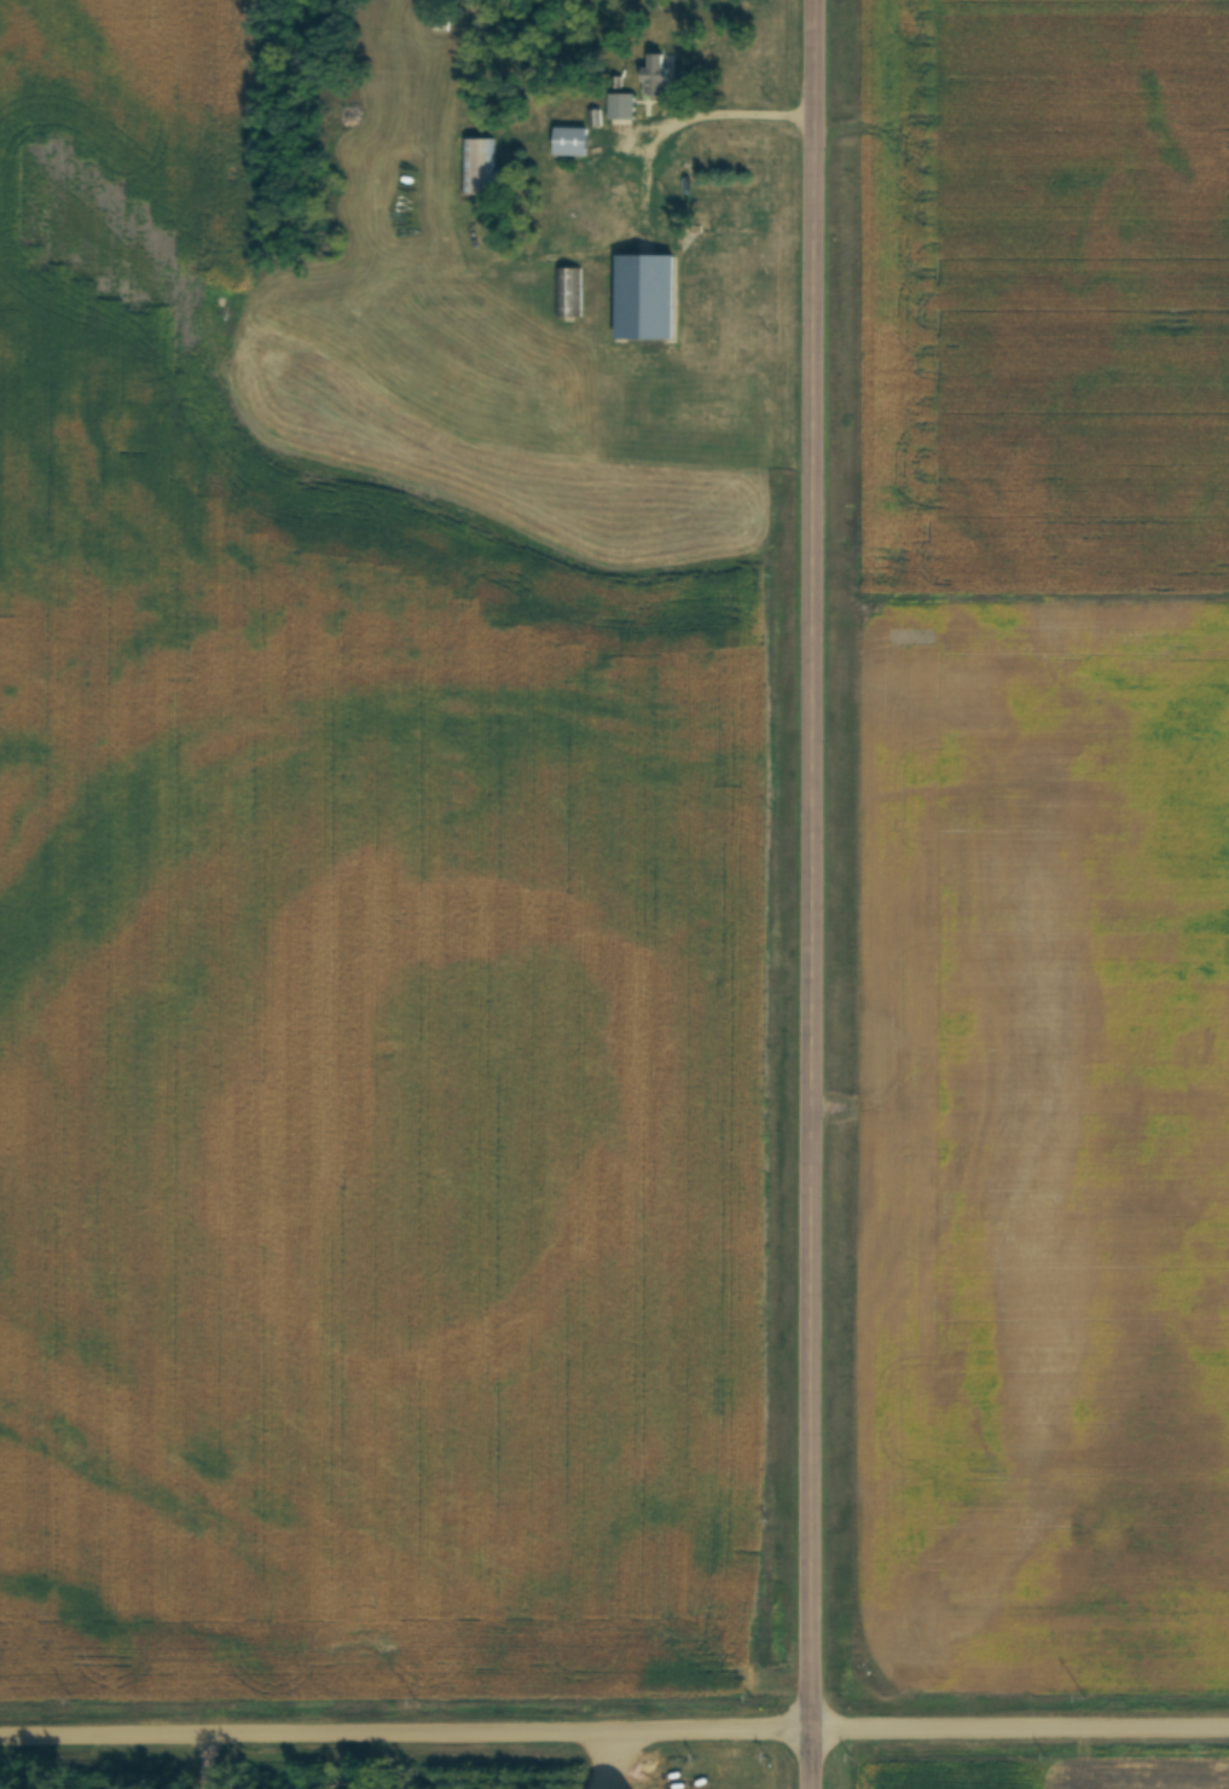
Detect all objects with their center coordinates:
building: (439, 24)
building: (655, 75)
building: (620, 108)
building: (570, 143)
building: (475, 166)
building: (581, 227)
building: (568, 294)
building: (647, 297)
road: (812, 893)
road: (614, 1733)
road: (595, 1761)
road: (198, 1762)

